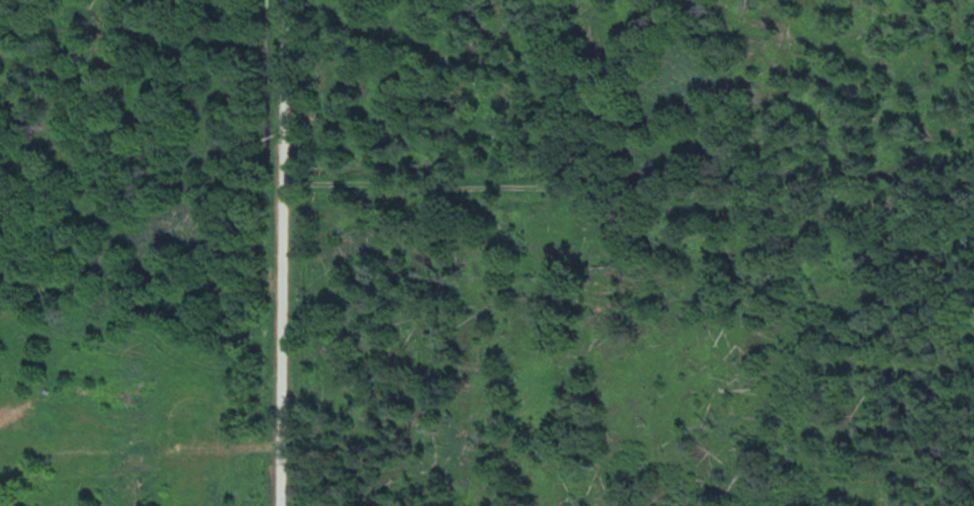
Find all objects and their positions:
road: (279, 253)

